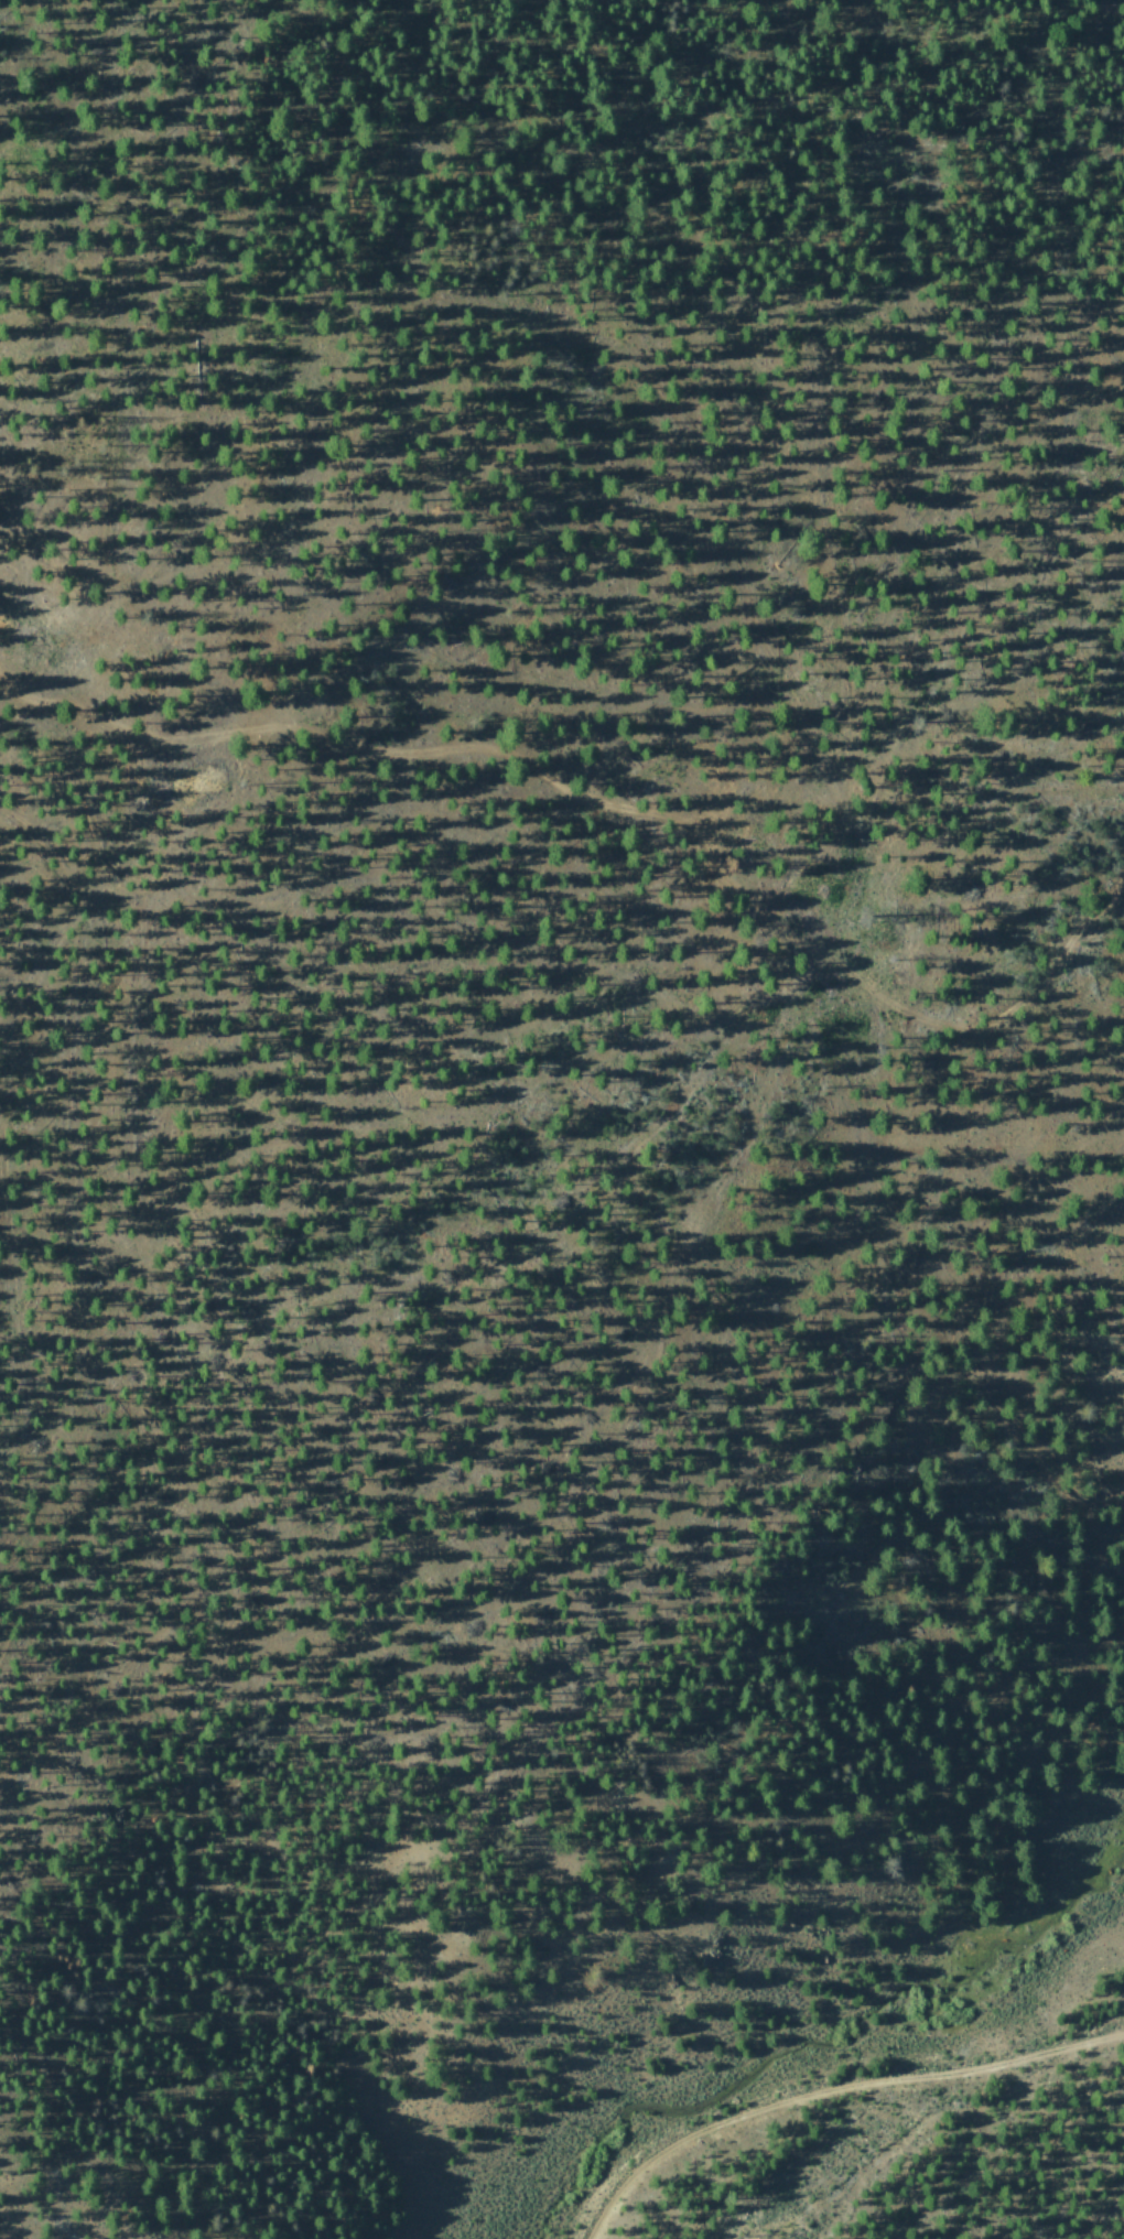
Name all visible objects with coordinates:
road: (1063, 1862)

